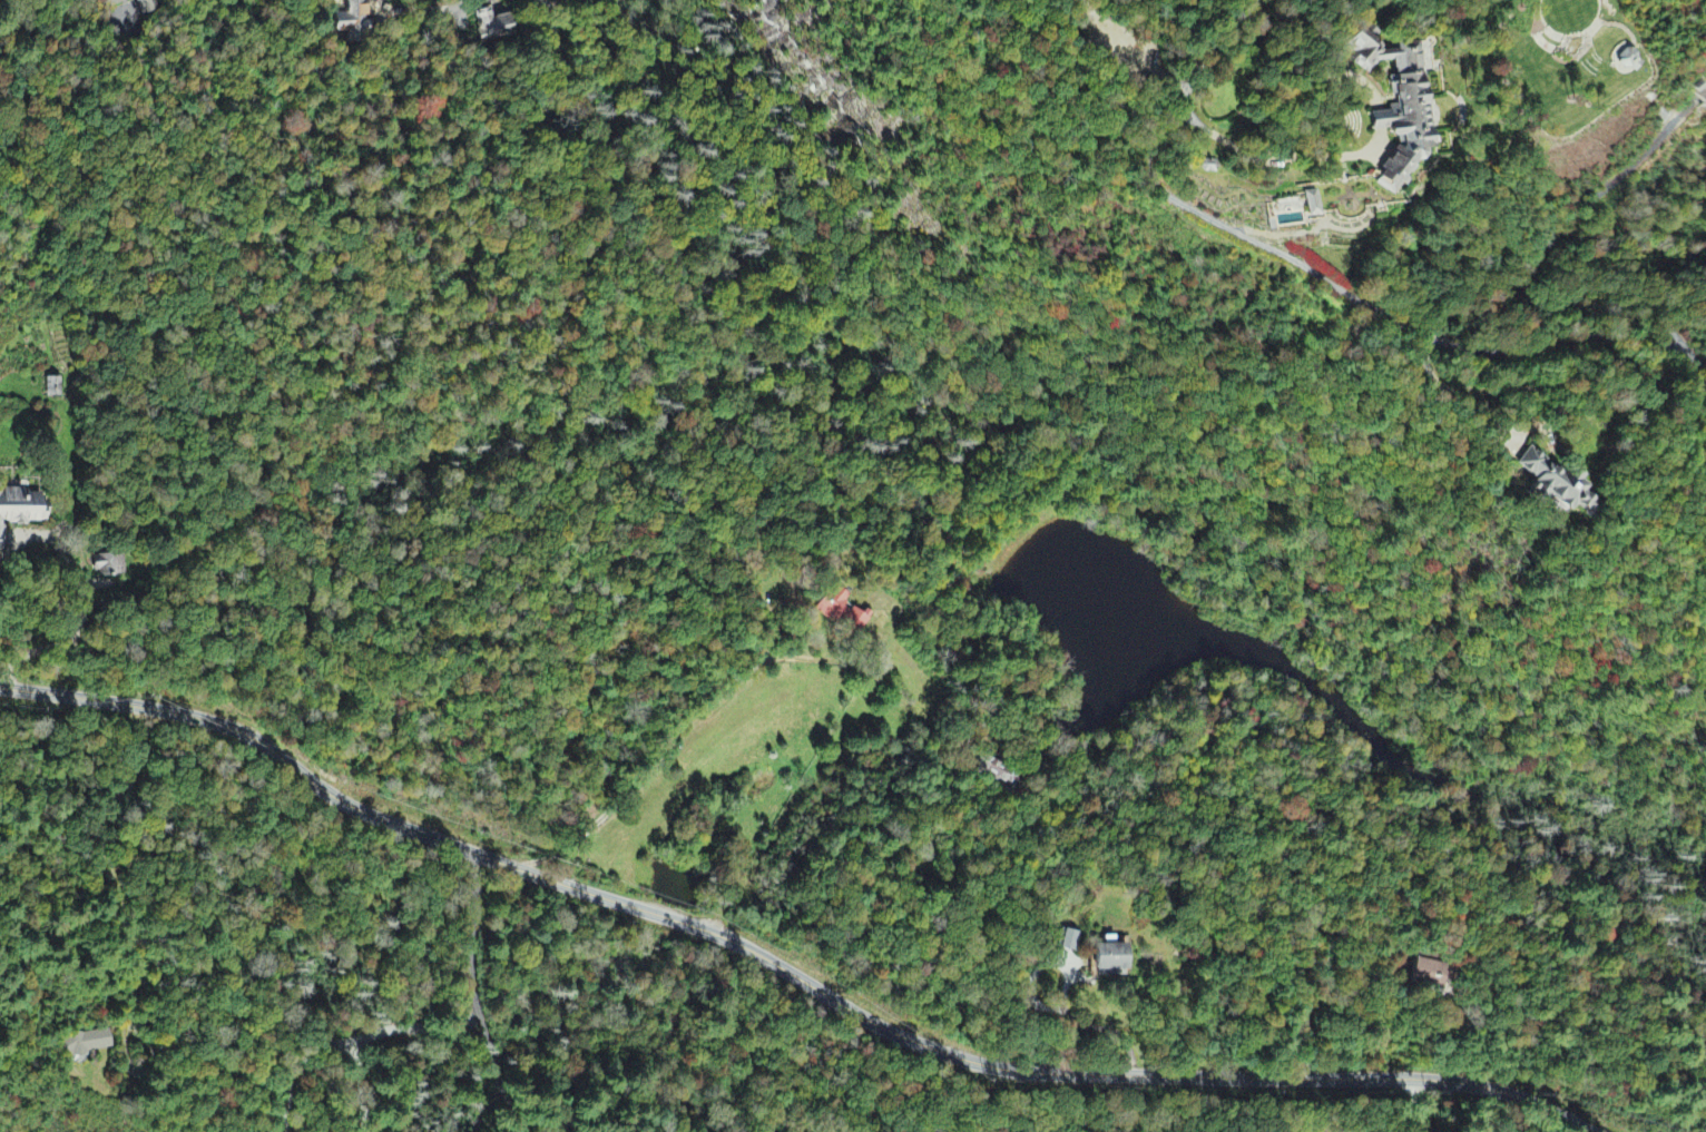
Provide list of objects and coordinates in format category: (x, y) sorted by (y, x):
building: (110, 3)
building: (146, 7)
building: (352, 21)
building: (491, 28)
building: (1403, 108)
building: (1314, 206)
road: (1526, 266)
road: (1321, 268)
building: (55, 390)
building: (1561, 484)
building: (23, 511)
building: (109, 568)
building: (844, 612)
building: (991, 772)
road: (117, 849)
building: (1073, 944)
building: (1117, 961)
road: (783, 967)
building: (1432, 976)
road: (475, 994)
building: (86, 1045)

